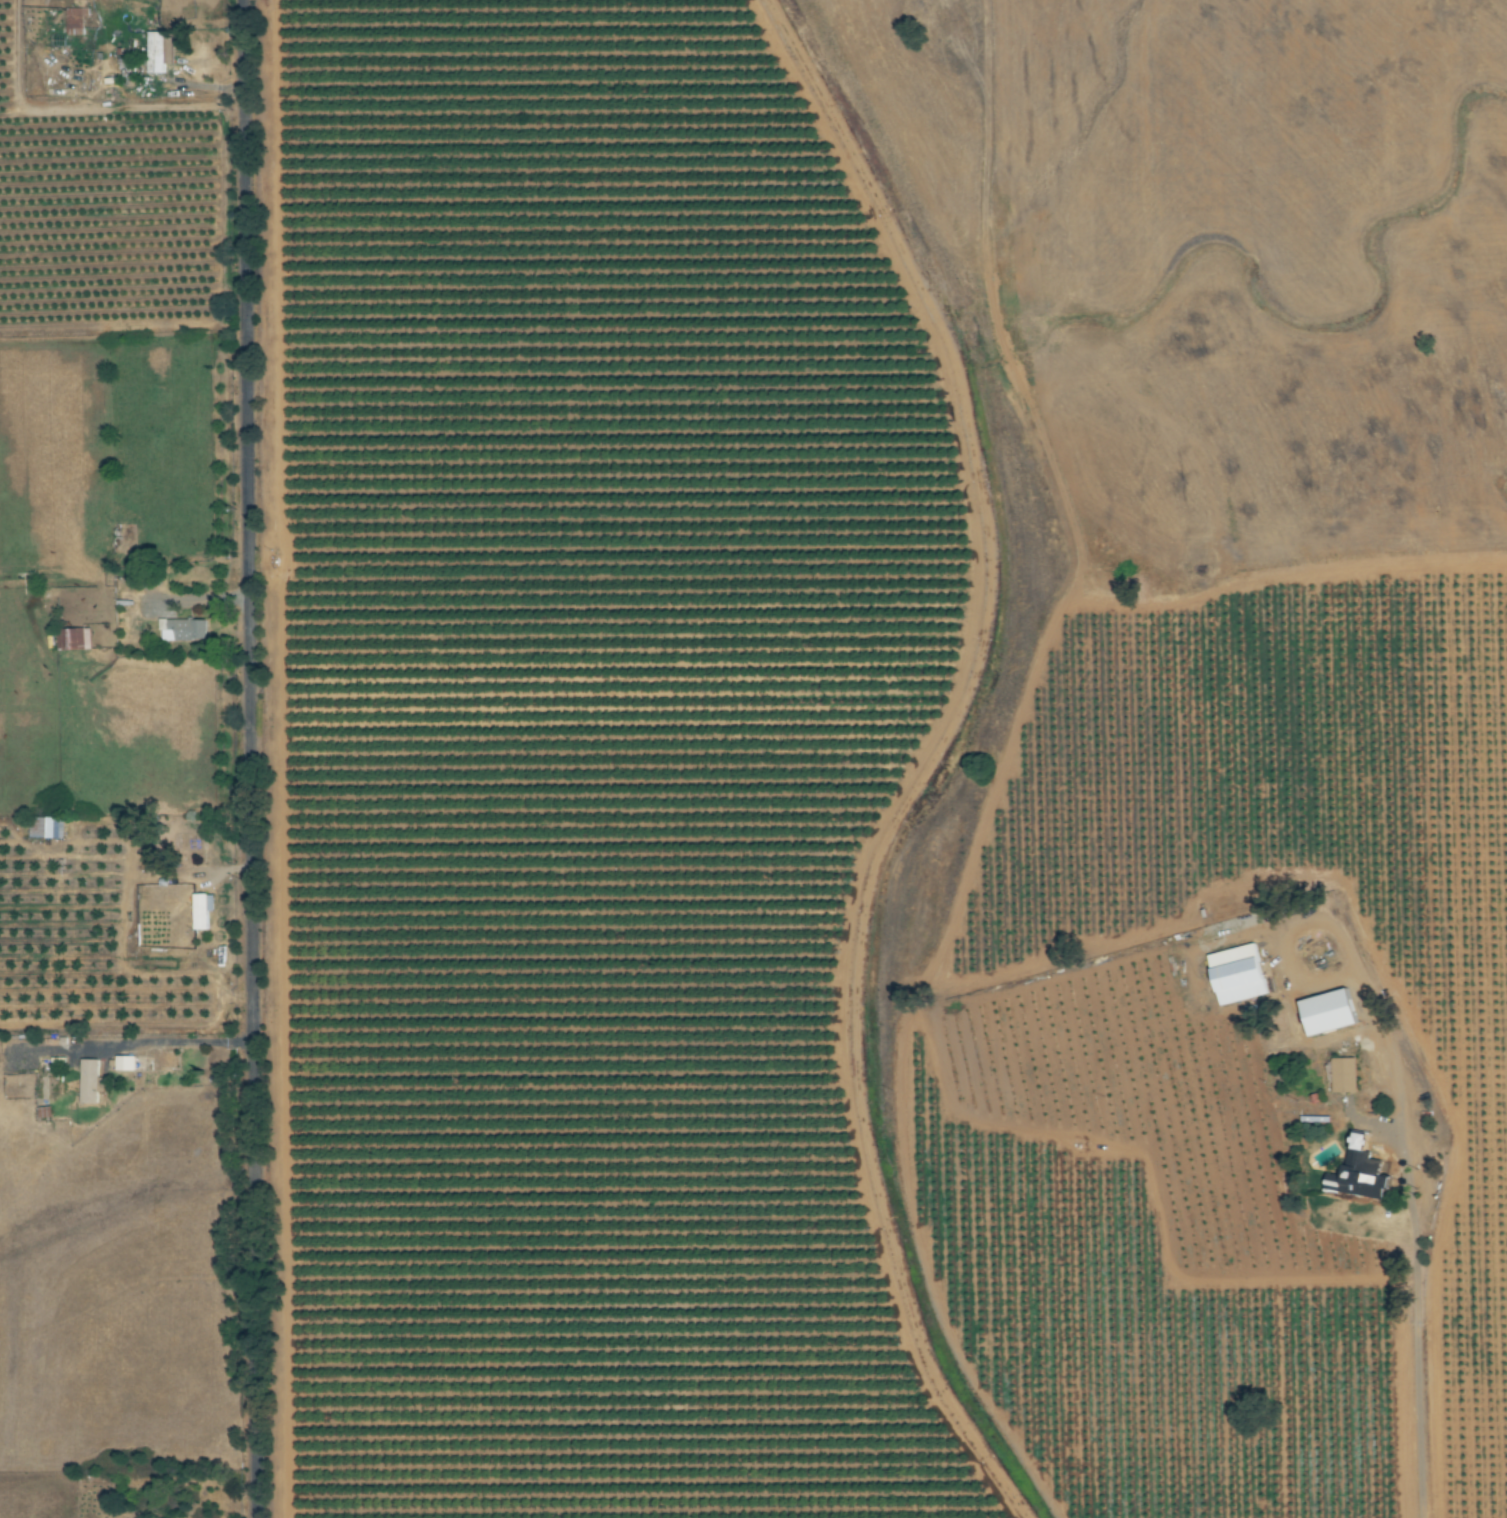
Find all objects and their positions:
building: (158, 52)
building: (182, 630)
building: (73, 640)
road: (246, 759)
building: (41, 828)
building: (202, 911)
building: (1238, 975)
building: (1329, 1014)
road: (174, 1043)
building: (167, 1059)
building: (125, 1063)
building: (1344, 1074)
building: (89, 1081)
building: (1359, 1175)
road: (1413, 1253)

